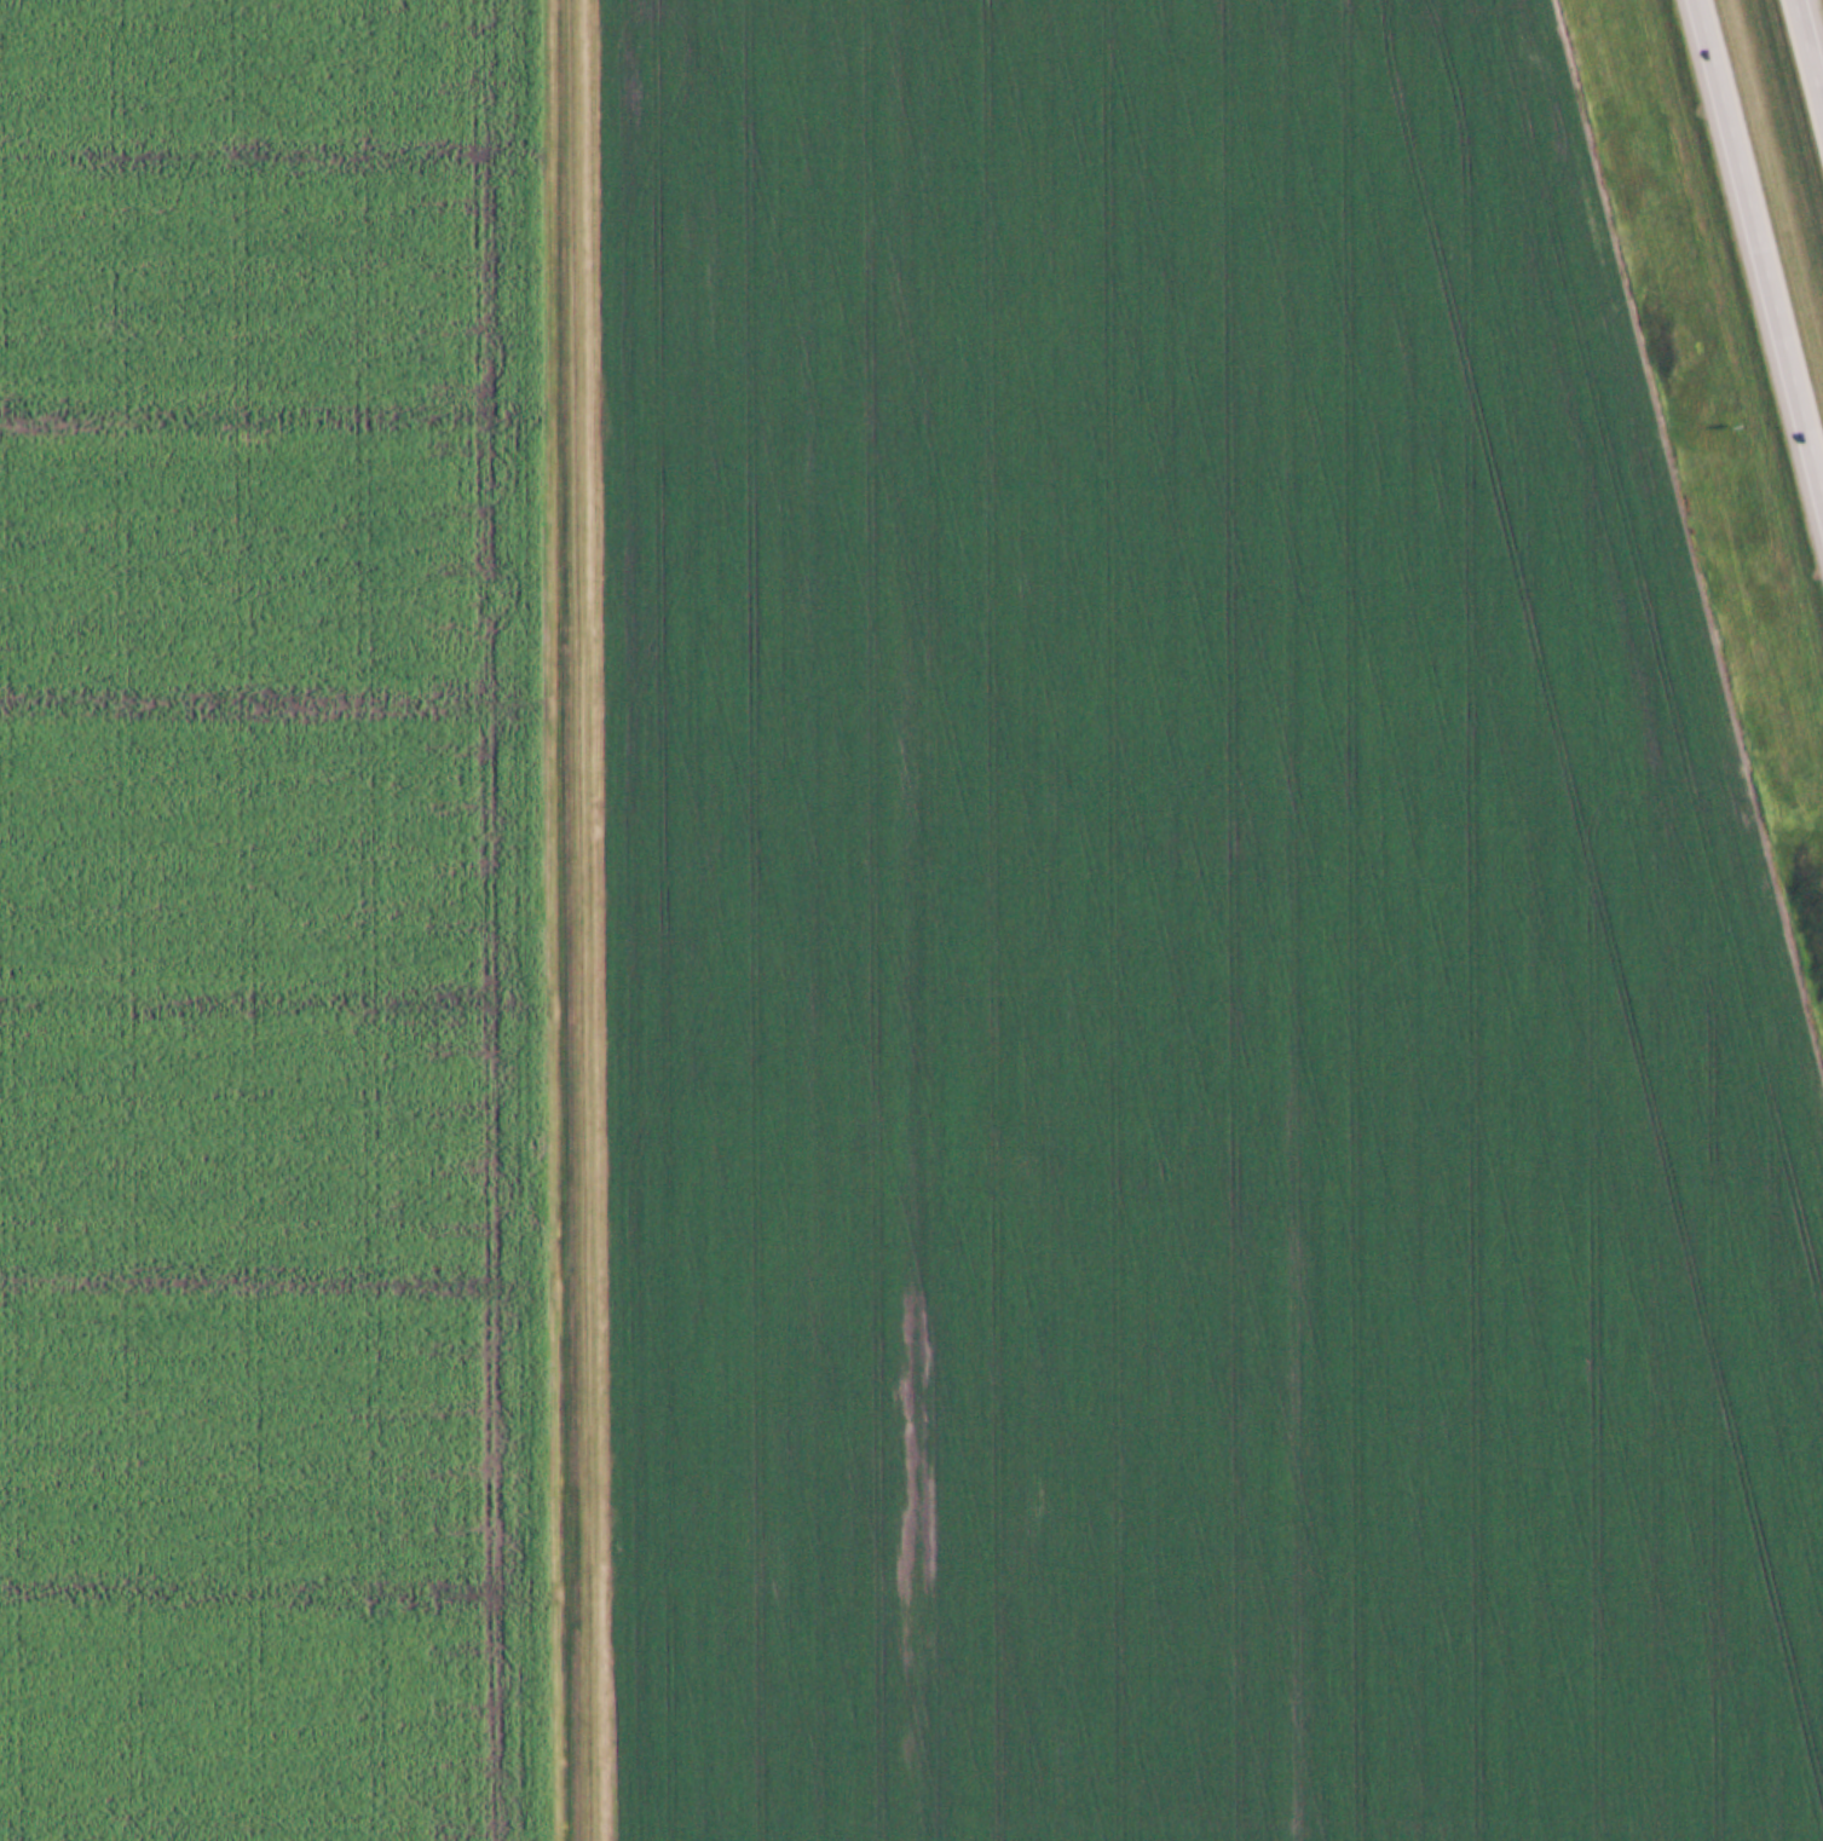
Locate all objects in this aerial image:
road: (1808, 56)
road: (1755, 256)
road: (589, 919)
crop: (265, 923)
crop: (1188, 957)

